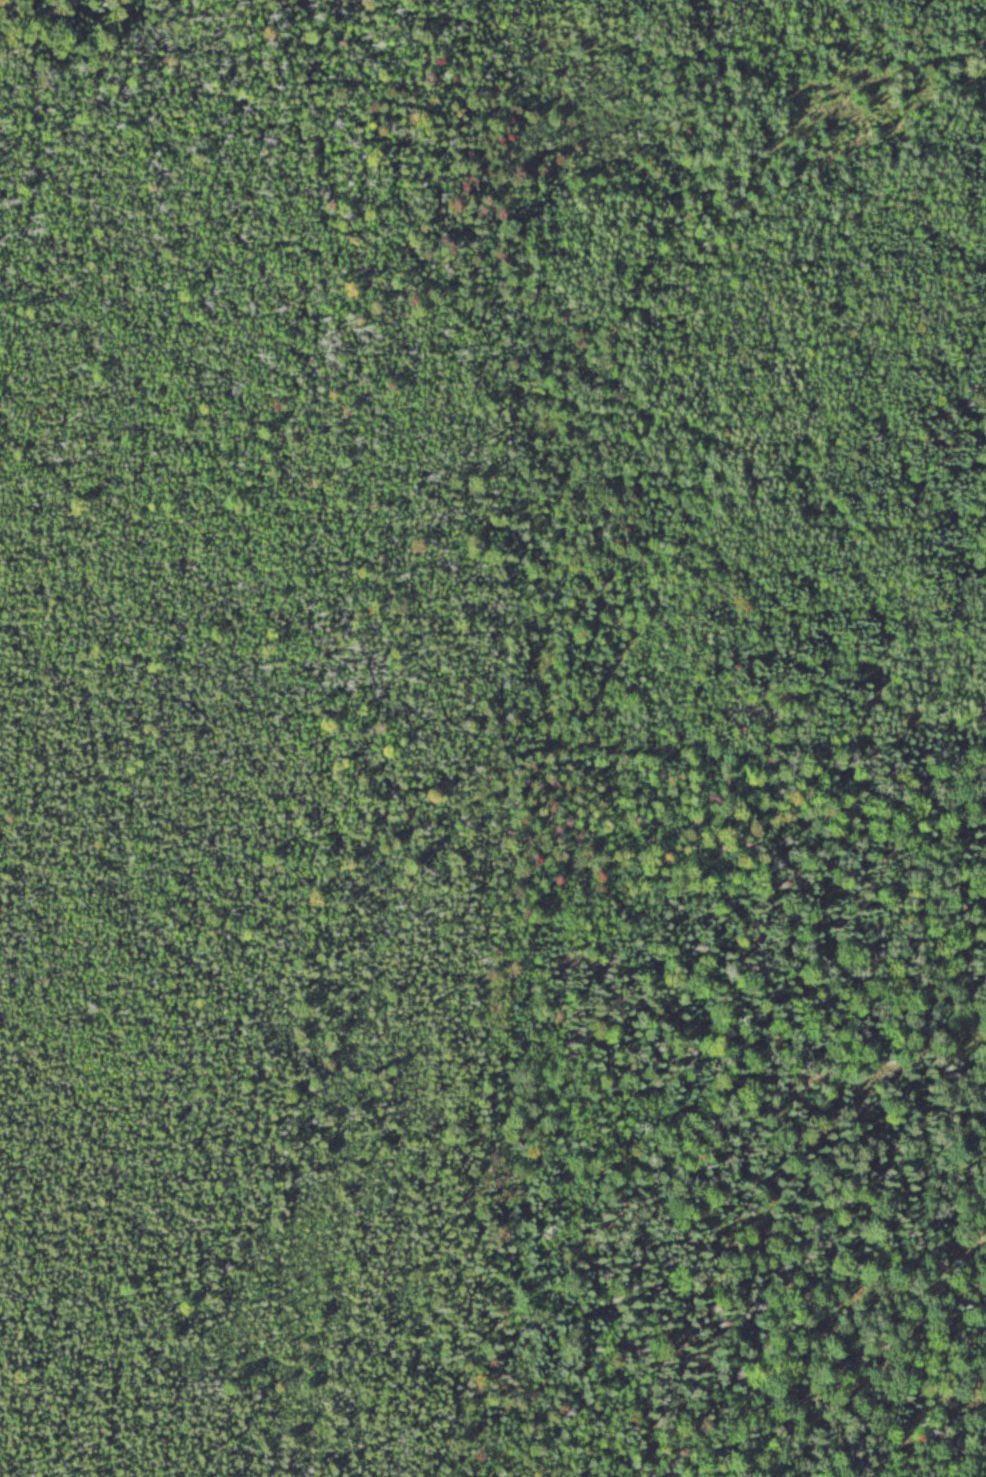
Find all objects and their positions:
road: (788, 1304)

